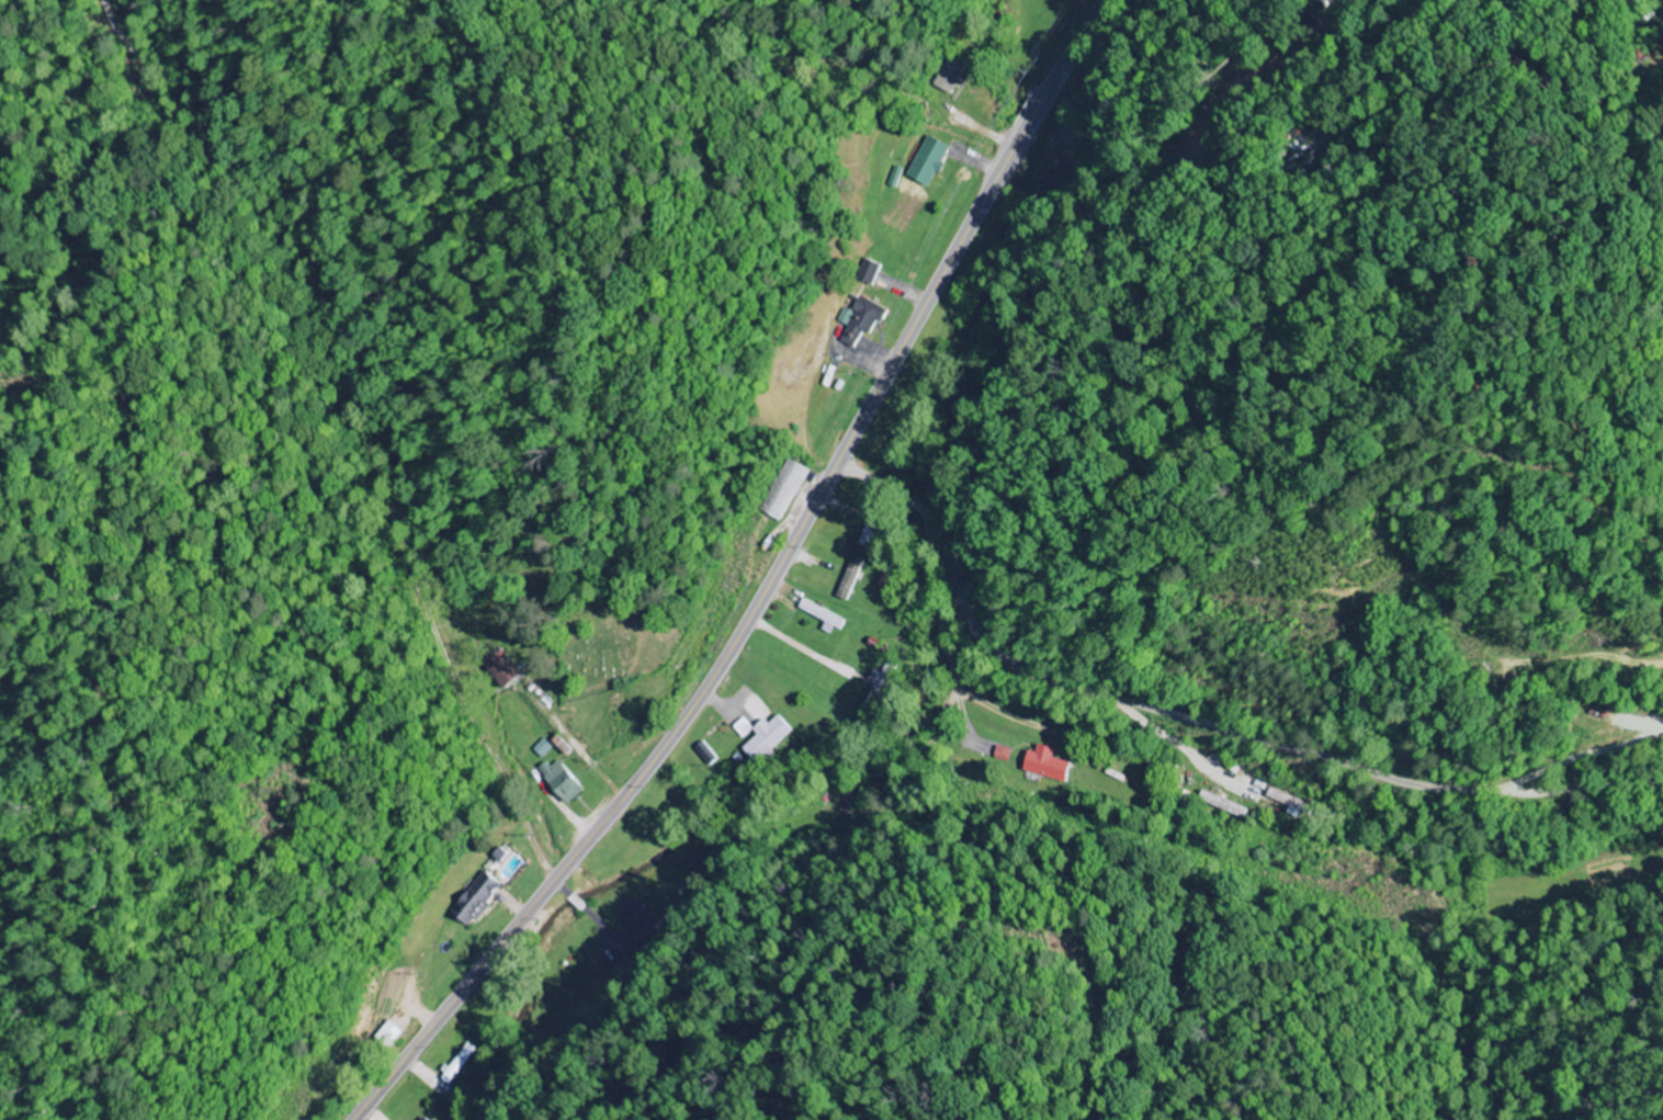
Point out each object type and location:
building: (926, 161)
building: (866, 271)
road: (1191, 530)
road: (766, 586)
building: (817, 614)
road: (1199, 719)
building: (744, 728)
building: (766, 729)
building: (542, 747)
building: (1042, 765)
building: (565, 780)
road: (611, 784)
building: (487, 885)
building: (460, 1063)
building: (427, 1118)

